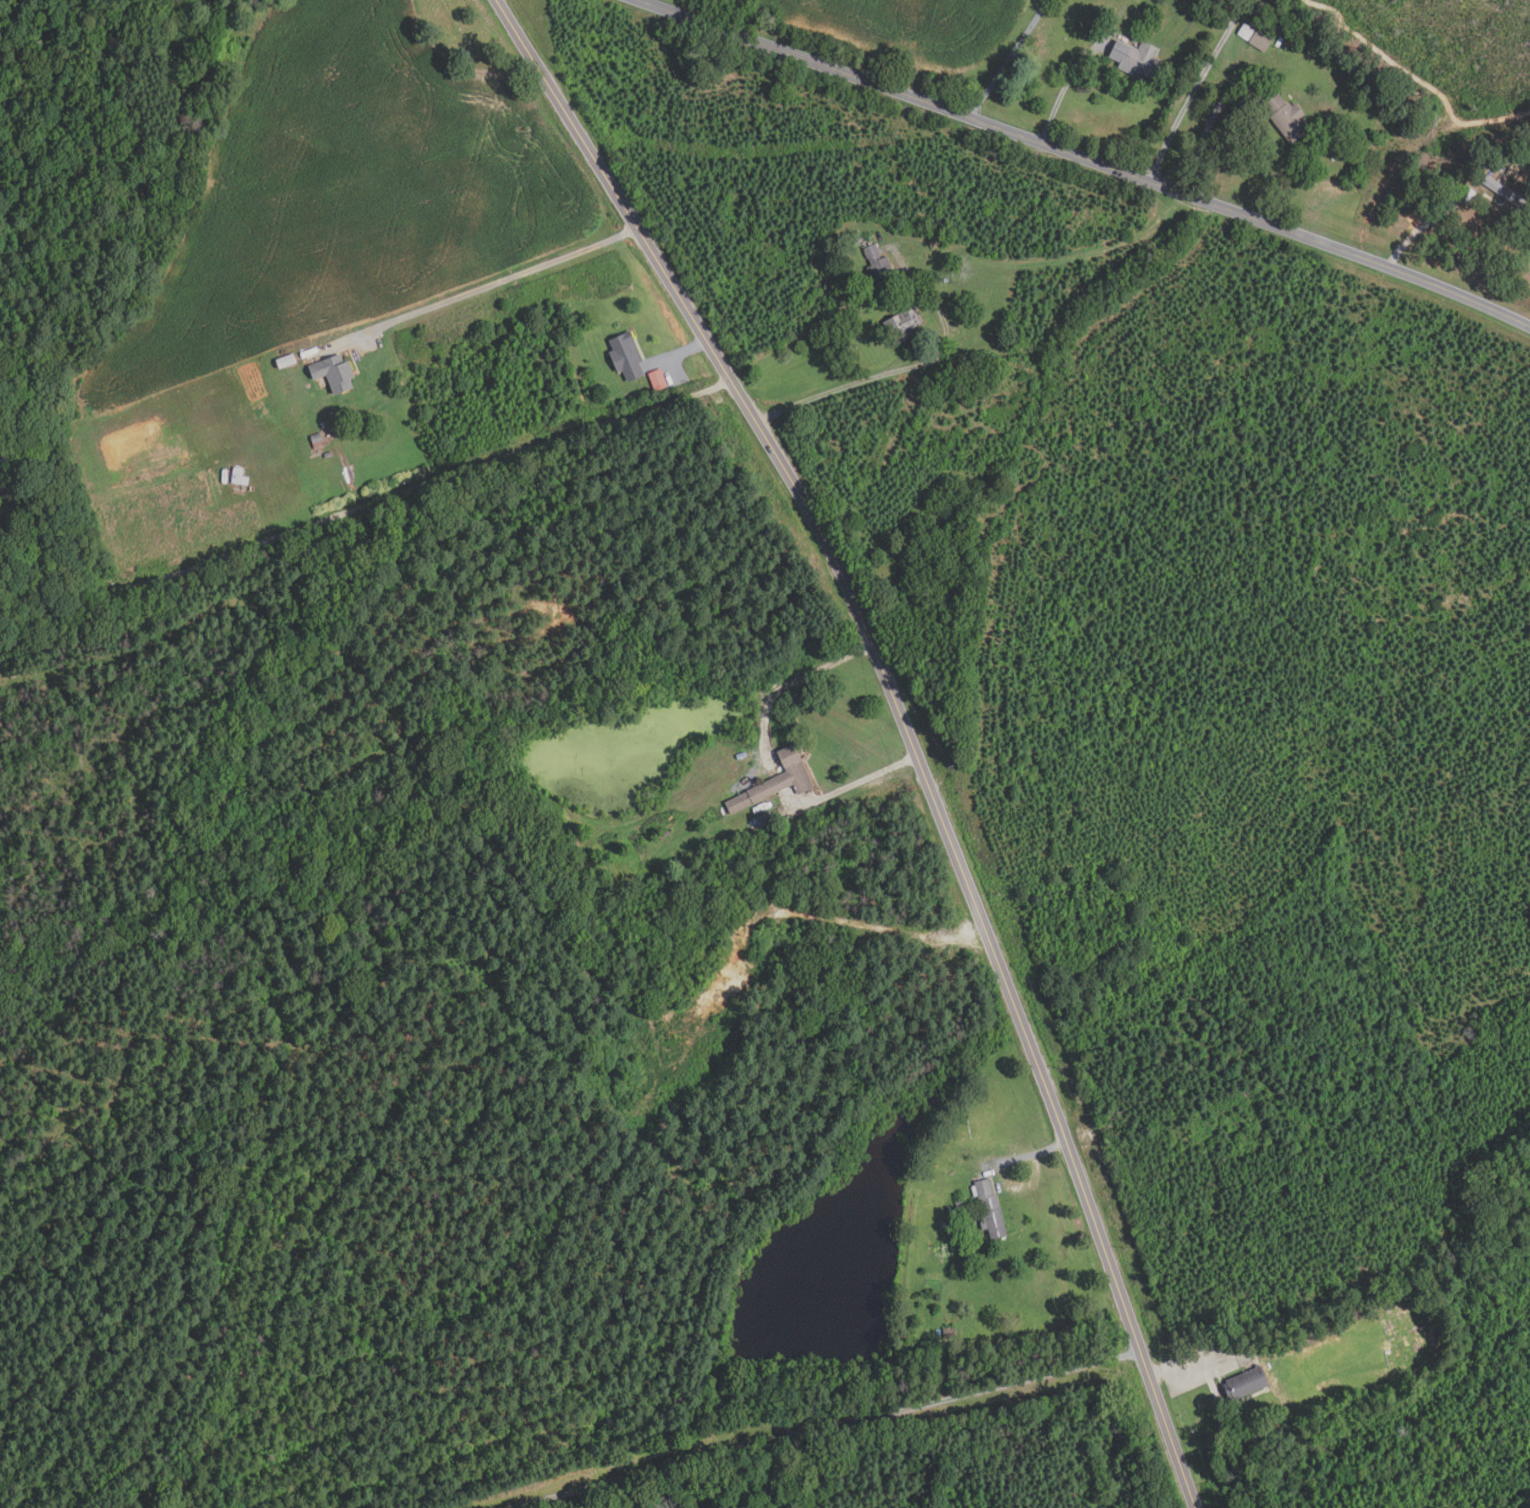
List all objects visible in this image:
building: (1247, 33)
building: (1262, 41)
road: (1009, 59)
building: (1139, 59)
road: (1070, 85)
road: (1195, 90)
building: (1289, 118)
road: (1086, 158)
building: (1503, 192)
building: (1466, 194)
building: (868, 240)
building: (880, 265)
road: (500, 280)
building: (947, 280)
building: (902, 325)
road: (800, 342)
building: (628, 357)
building: (288, 361)
building: (336, 373)
building: (659, 380)
road: (845, 387)
building: (319, 441)
building: (329, 454)
building: (241, 477)
road: (365, 508)
road: (41, 568)
road: (906, 725)
road: (862, 781)
building: (777, 783)
building: (768, 820)
building: (993, 1211)
river: (845, 1248)
building: (952, 1332)
park: (1402, 1336)
building: (1243, 1383)
road: (825, 1427)

